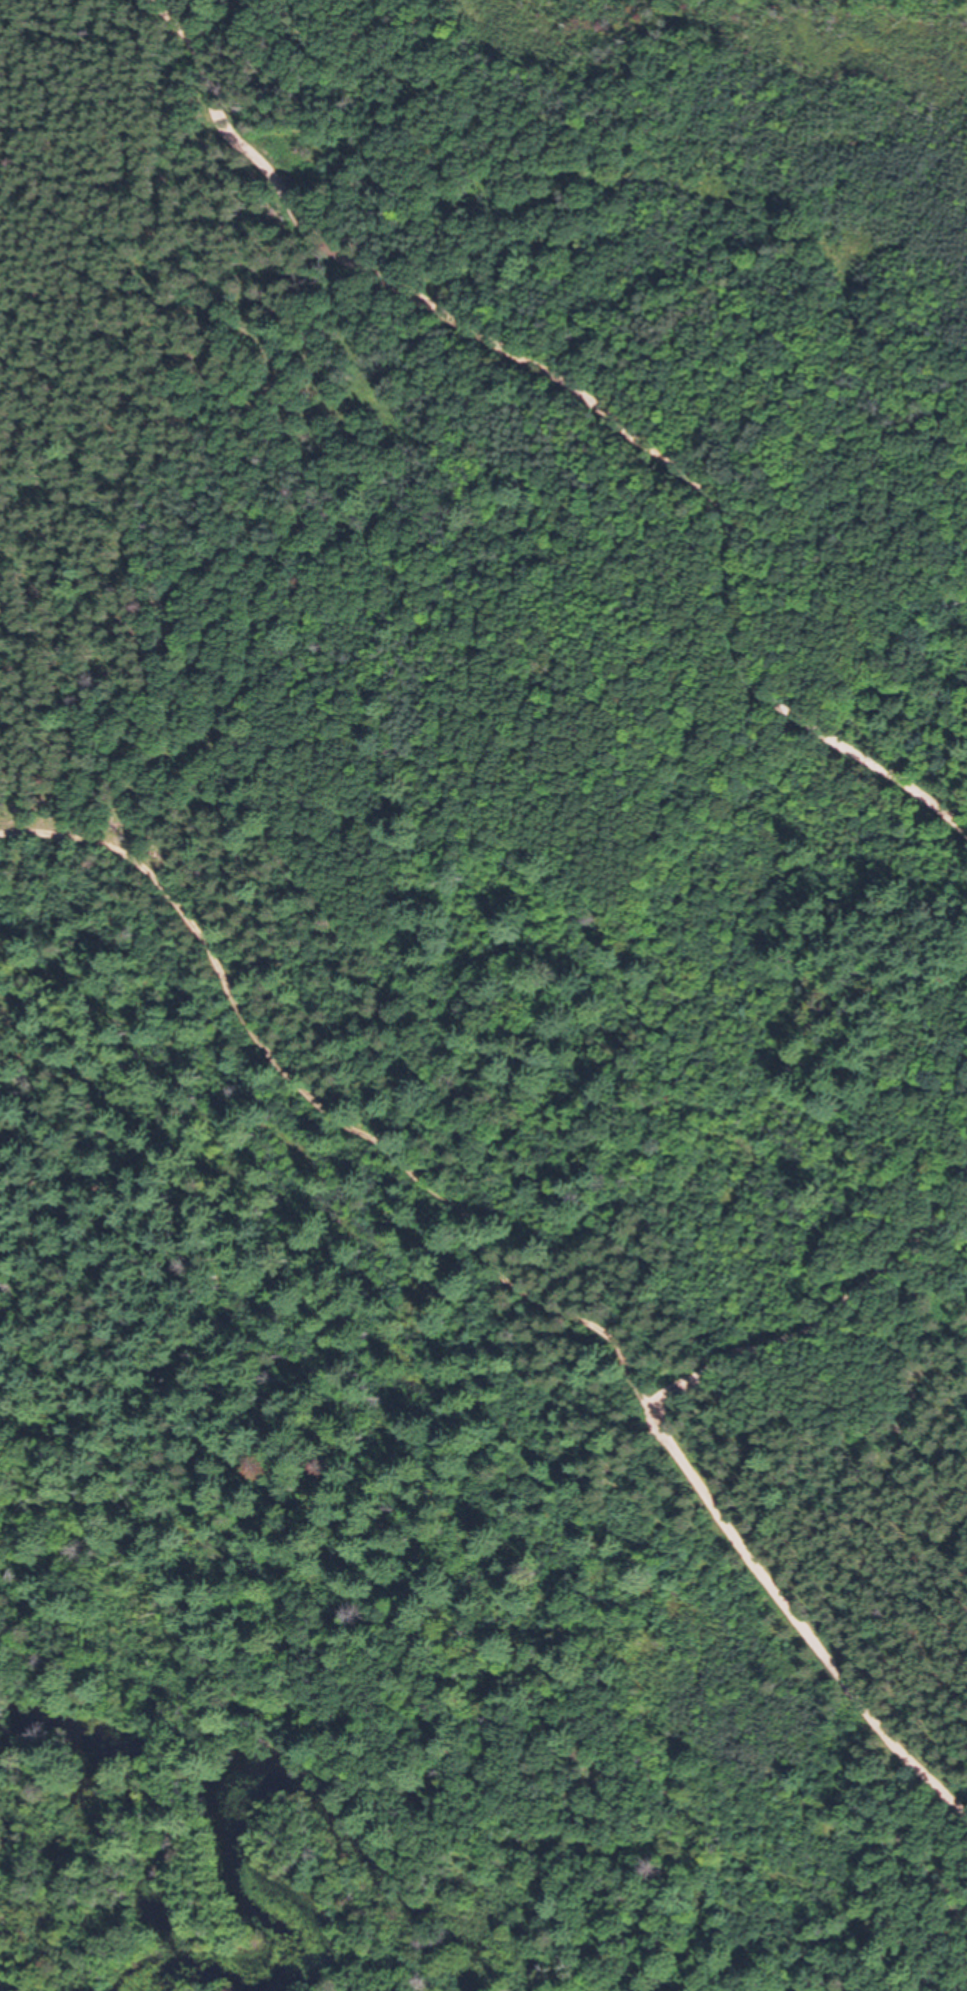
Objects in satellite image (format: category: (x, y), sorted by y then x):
road: (207, 46)
road: (483, 1421)

